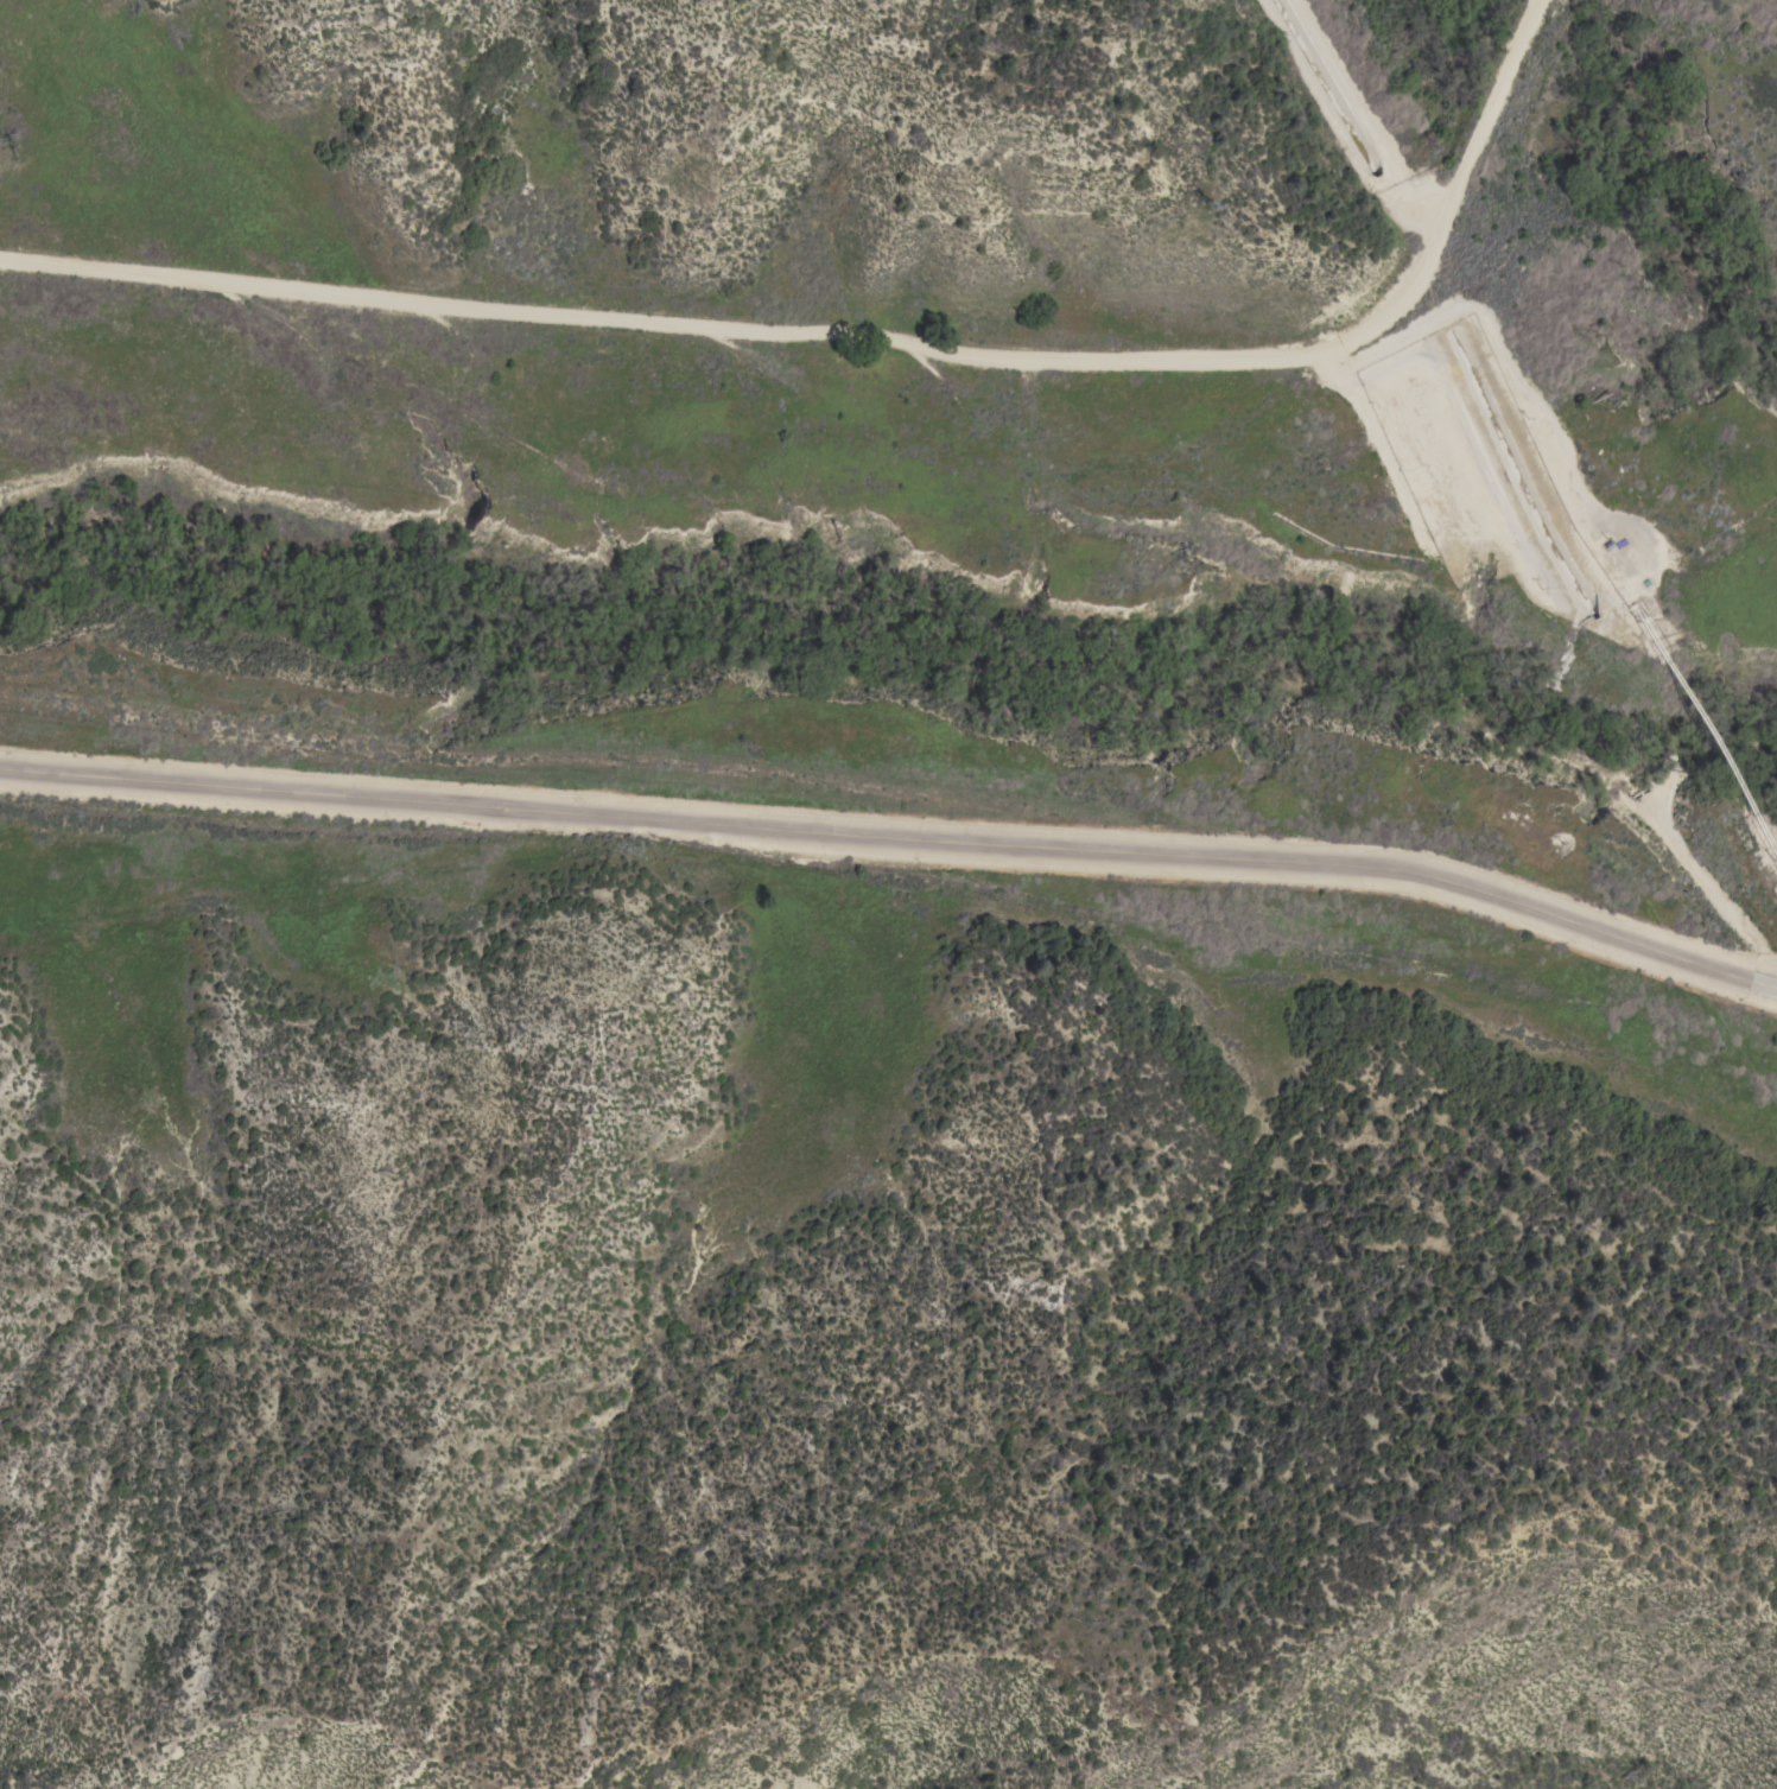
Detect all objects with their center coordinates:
power tower: (1208, 211)
road: (875, 336)
road: (896, 839)

